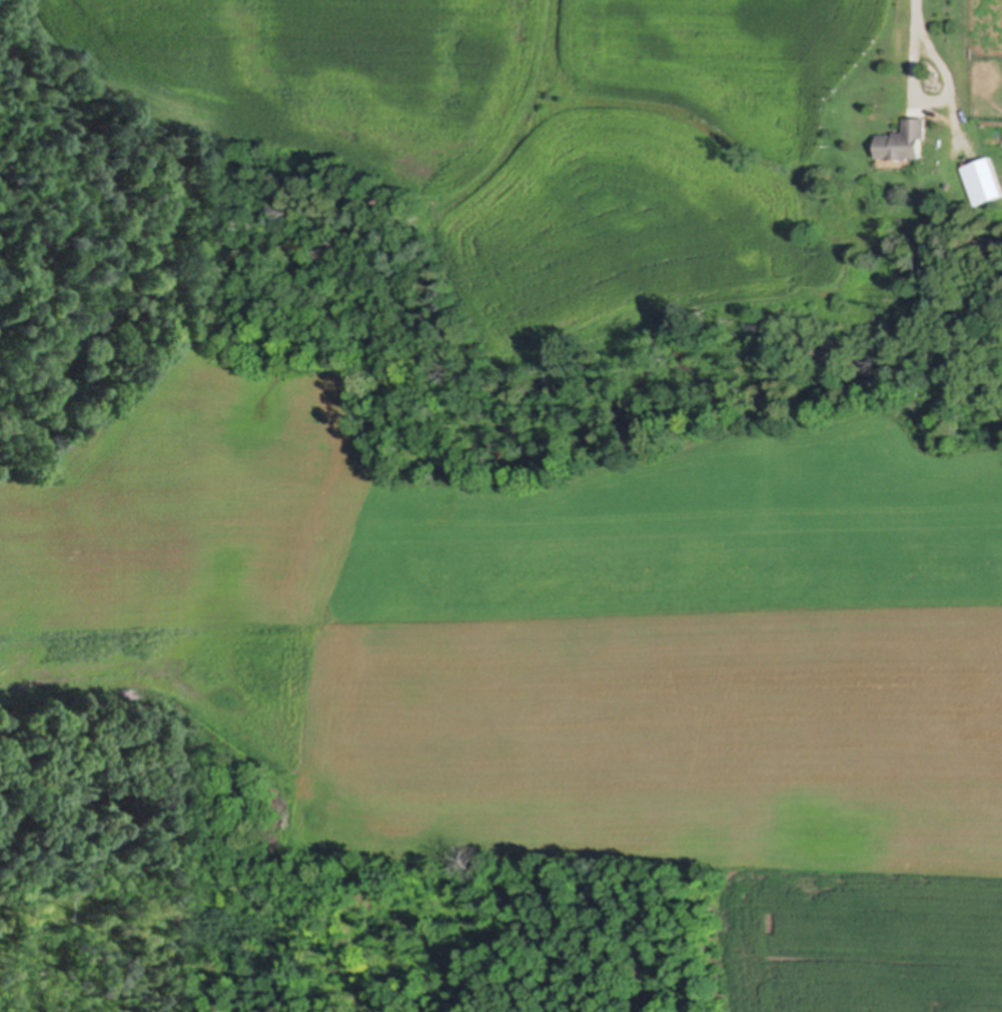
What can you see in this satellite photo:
building: (906, 139)
building: (984, 178)

